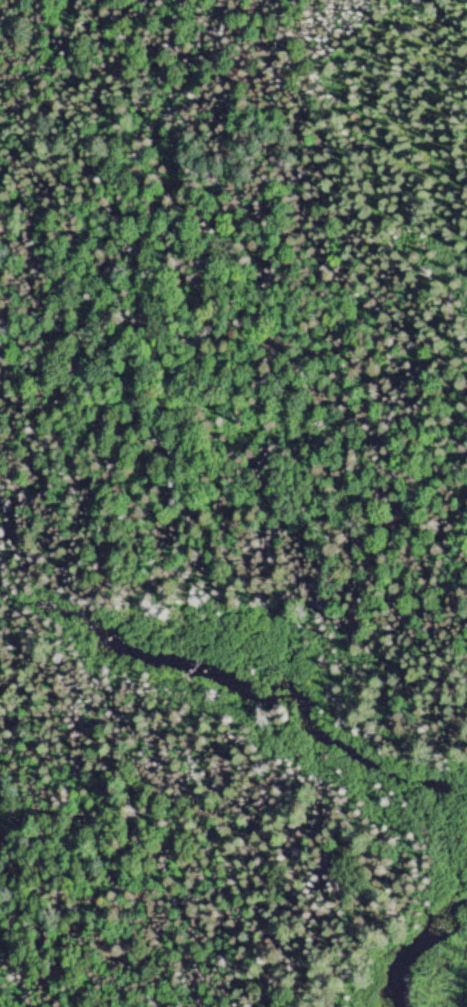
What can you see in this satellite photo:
river: (238, 691)
river: (414, 938)

